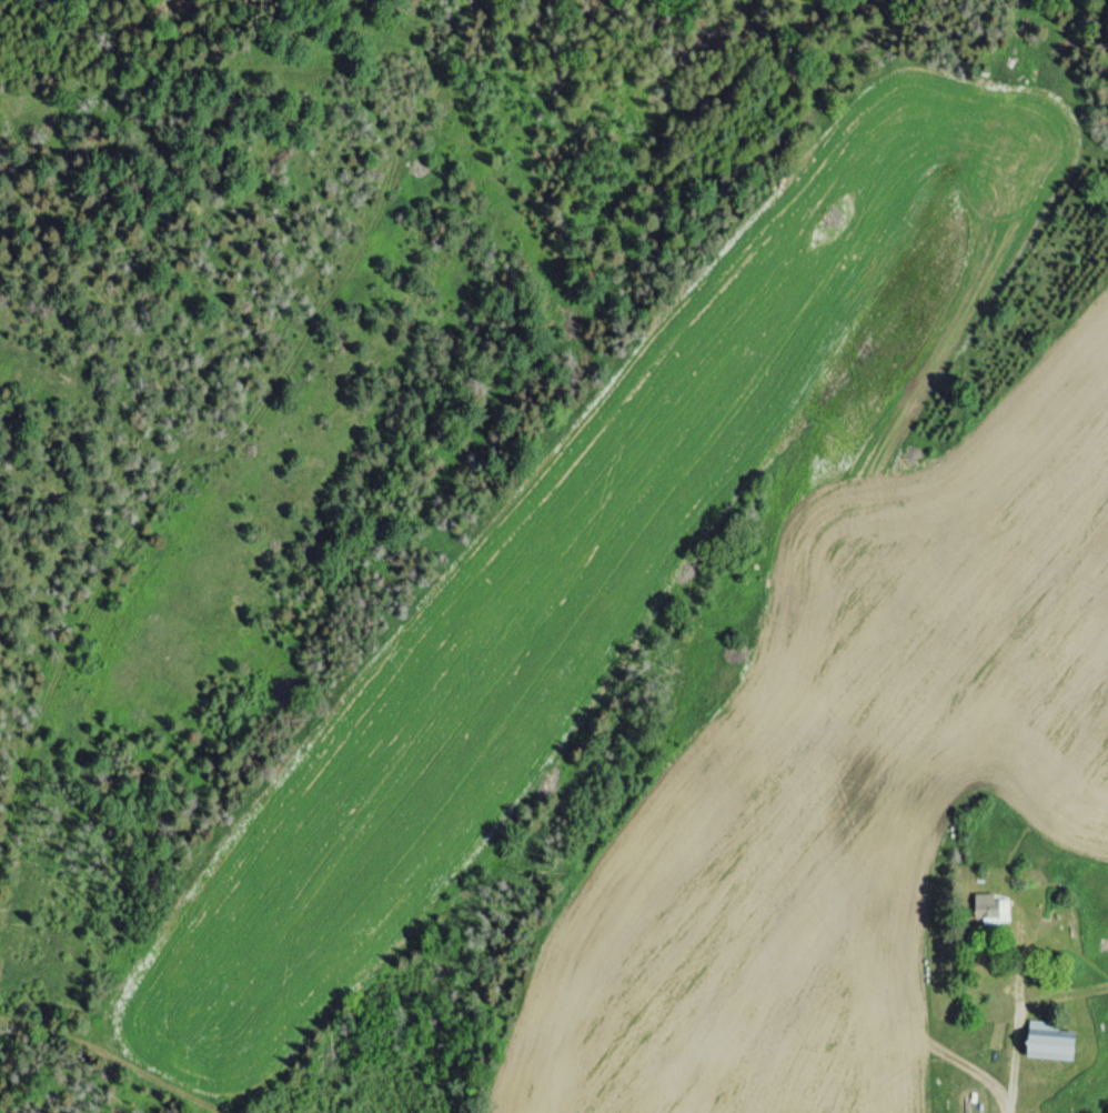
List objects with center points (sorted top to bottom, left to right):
building: (993, 909)
road: (1014, 1032)
building: (1050, 1041)
road: (98, 1062)

